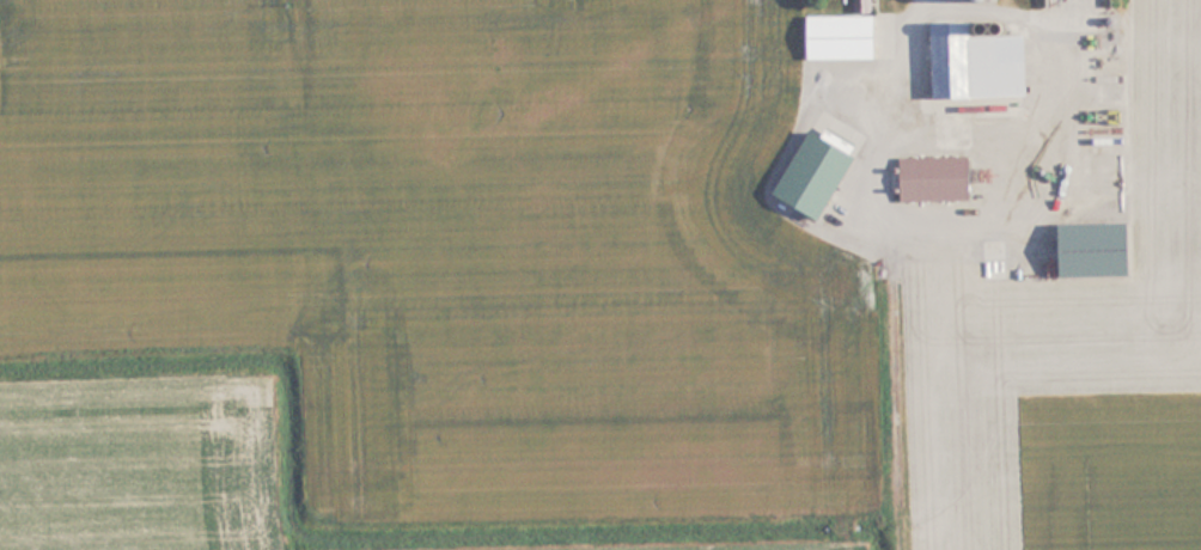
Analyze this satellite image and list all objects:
building: (847, 35)
building: (982, 63)
building: (819, 173)
building: (974, 178)

